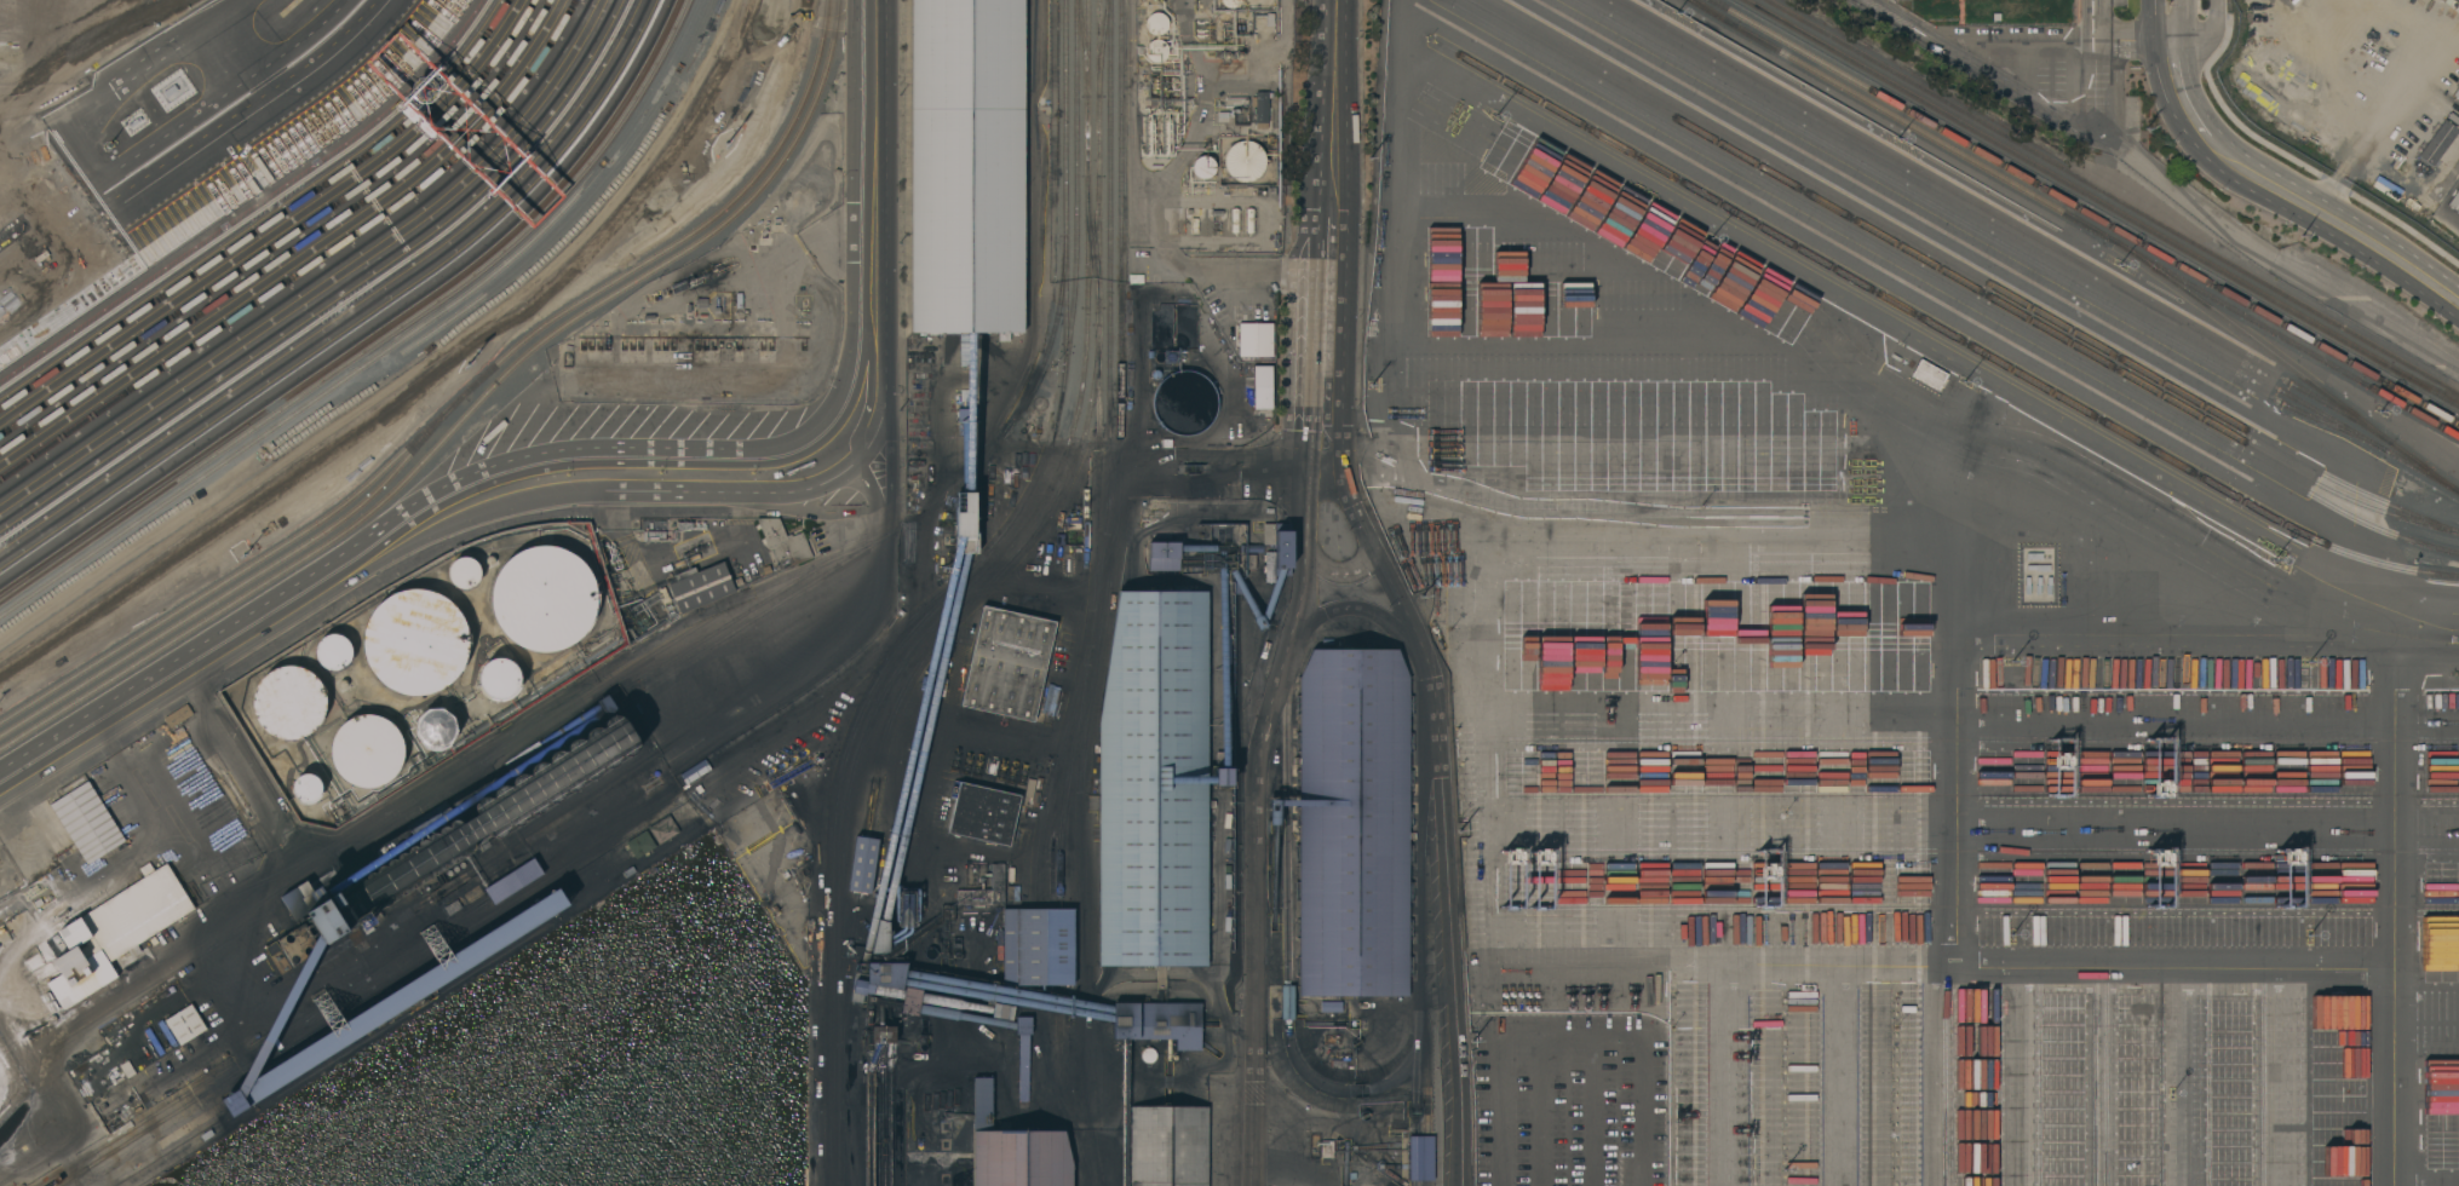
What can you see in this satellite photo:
building: (1231, 2)
railway: (1714, 12)
building: (1156, 23)
road: (2159, 23)
road: (2179, 23)
road: (2204, 33)
road: (2113, 44)
railway: (1086, 47)
railway: (1105, 47)
road: (2024, 47)
building: (1156, 50)
road: (2182, 92)
road: (2020, 93)
building: (2457, 96)
building: (1262, 109)
street lamp: (1499, 115)
street lamp: (1896, 137)
building: (2437, 142)
building: (1245, 160)
building: (967, 166)
building: (1203, 166)
road: (1334, 182)
railway: (2068, 182)
railway: (1079, 192)
railway: (2115, 195)
building: (2454, 202)
railway: (2085, 212)
railway: (2075, 218)
building: (1234, 219)
railway: (2004, 219)
building: (1249, 220)
railway: (1068, 224)
railway: (1090, 224)
road: (2331, 225)
railway: (1977, 229)
street lamp: (1712, 237)
railway: (1095, 240)
railway: (1096, 240)
railway: (2027, 246)
street lamp: (2121, 264)
railway: (1111, 265)
road: (1272, 271)
road: (1875, 272)
railway: (1971, 272)
railway: (1958, 278)
road: (2032, 282)
railway: (1947, 286)
railway: (1101, 305)
road: (1880, 319)
railway: (1937, 329)
railway: (1053, 332)
building: (1254, 339)
railway: (2283, 362)
road: (1325, 364)
building: (1929, 375)
street lamp: (1963, 381)
railway: (2423, 381)
railway: (2423, 385)
railway: (1096, 386)
building: (1262, 386)
railway: (460, 398)
railway: (1124, 398)
building: (1184, 402)
railway: (2409, 402)
road: (1884, 405)
railway: (469, 413)
road: (827, 460)
building: (354, 462)
road: (1281, 472)
railway: (963, 483)
road: (1434, 502)
building: (966, 522)
building: (1269, 534)
building: (654, 535)
building: (783, 542)
building: (1282, 548)
building: (1164, 555)
building: (1270, 566)
building: (464, 572)
road: (1340, 574)
building: (701, 586)
railway: (237, 587)
building: (1625, 592)
building: (544, 599)
road: (1354, 609)
building: (416, 641)
building: (334, 651)
railway: (1088, 656)
street lamp: (2010, 660)
street lamp: (2305, 661)
building: (1007, 663)
road: (2208, 663)
road: (185, 666)
road: (771, 668)
building: (499, 678)
building: (289, 702)
building: (608, 704)
building: (178, 715)
building: (435, 729)
road: (2207, 736)
building: (367, 750)
railway: (1057, 775)
building: (1222, 776)
building: (1154, 782)
building: (983, 812)
road: (1958, 813)
road: (1438, 821)
building: (87, 822)
building: (1354, 823)
road: (1254, 824)
building: (477, 825)
silo: (477, 825)
building: (663, 829)
road: (1828, 830)
building: (640, 844)
building: (863, 864)
building: (511, 881)
building: (1013, 883)
road: (262, 887)
building: (986, 890)
road: (2397, 923)
road: (1287, 928)
railway: (1081, 929)
building: (115, 932)
street lamp: (2010, 935)
building: (880, 937)
street lamp: (2302, 937)
building: (298, 940)
building: (1038, 946)
railway: (1041, 946)
railway: (1061, 946)
road: (352, 949)
road: (2095, 966)
road: (1419, 969)
building: (886, 974)
building: (910, 1000)
building: (393, 1002)
building: (1287, 1002)
building: (1331, 1006)
building: (1002, 1011)
building: (1159, 1021)
building: (1023, 1025)
road: (1641, 1027)
building: (176, 1029)
building: (883, 1034)
road: (1494, 1053)
road: (1729, 1076)
road: (1840, 1076)
road: (2102, 1076)
road: (2190, 1076)
road: (2288, 1076)
road: (1544, 1077)
road: (1588, 1078)
railway: (1056, 1083)
railway: (1068, 1086)
railway: (850, 1102)
building: (1168, 1146)
building: (1326, 1148)
building: (1015, 1150)
building: (1420, 1158)

